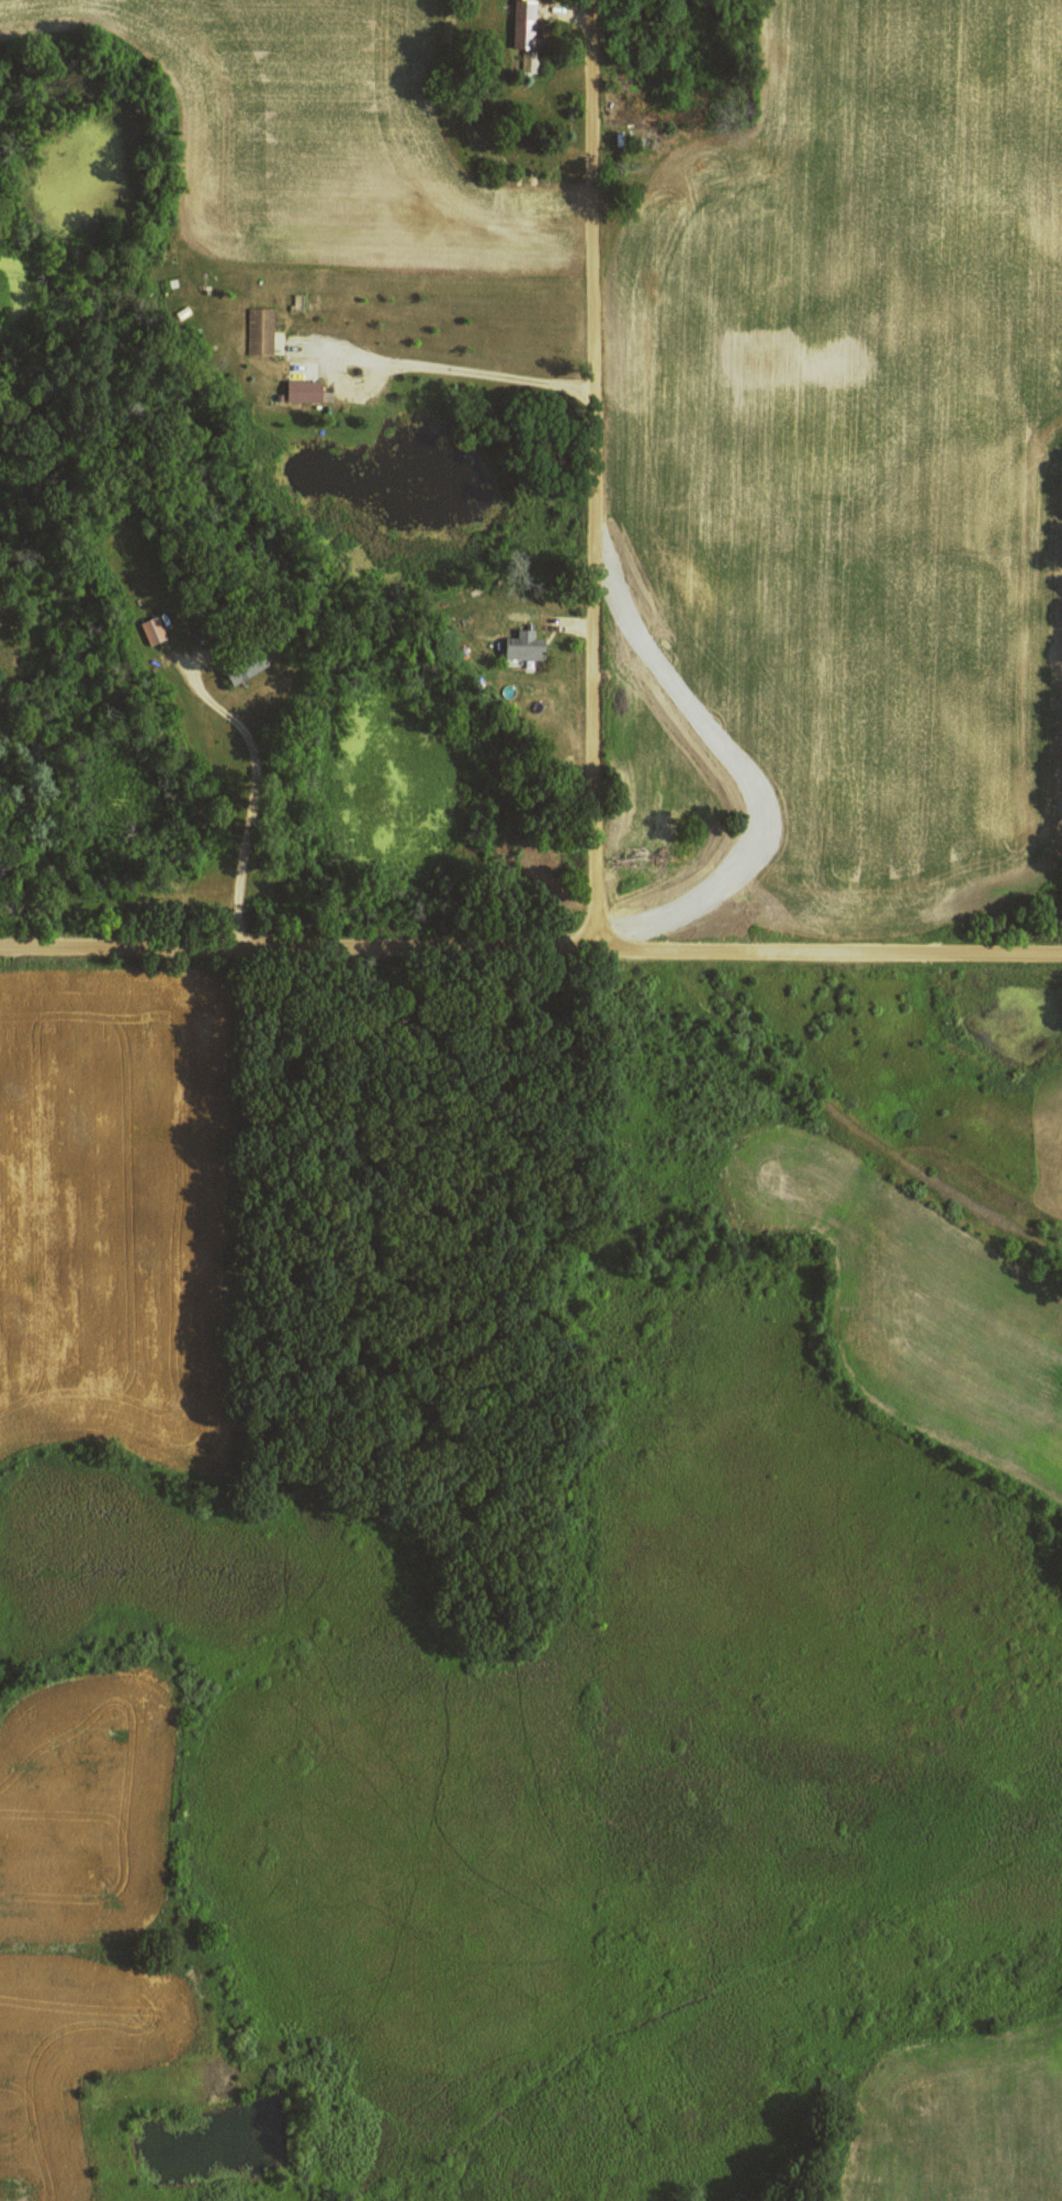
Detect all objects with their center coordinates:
building: (526, 22)
building: (530, 60)
building: (261, 329)
building: (306, 390)
road: (592, 476)
building: (154, 629)
building: (528, 645)
road: (531, 952)

